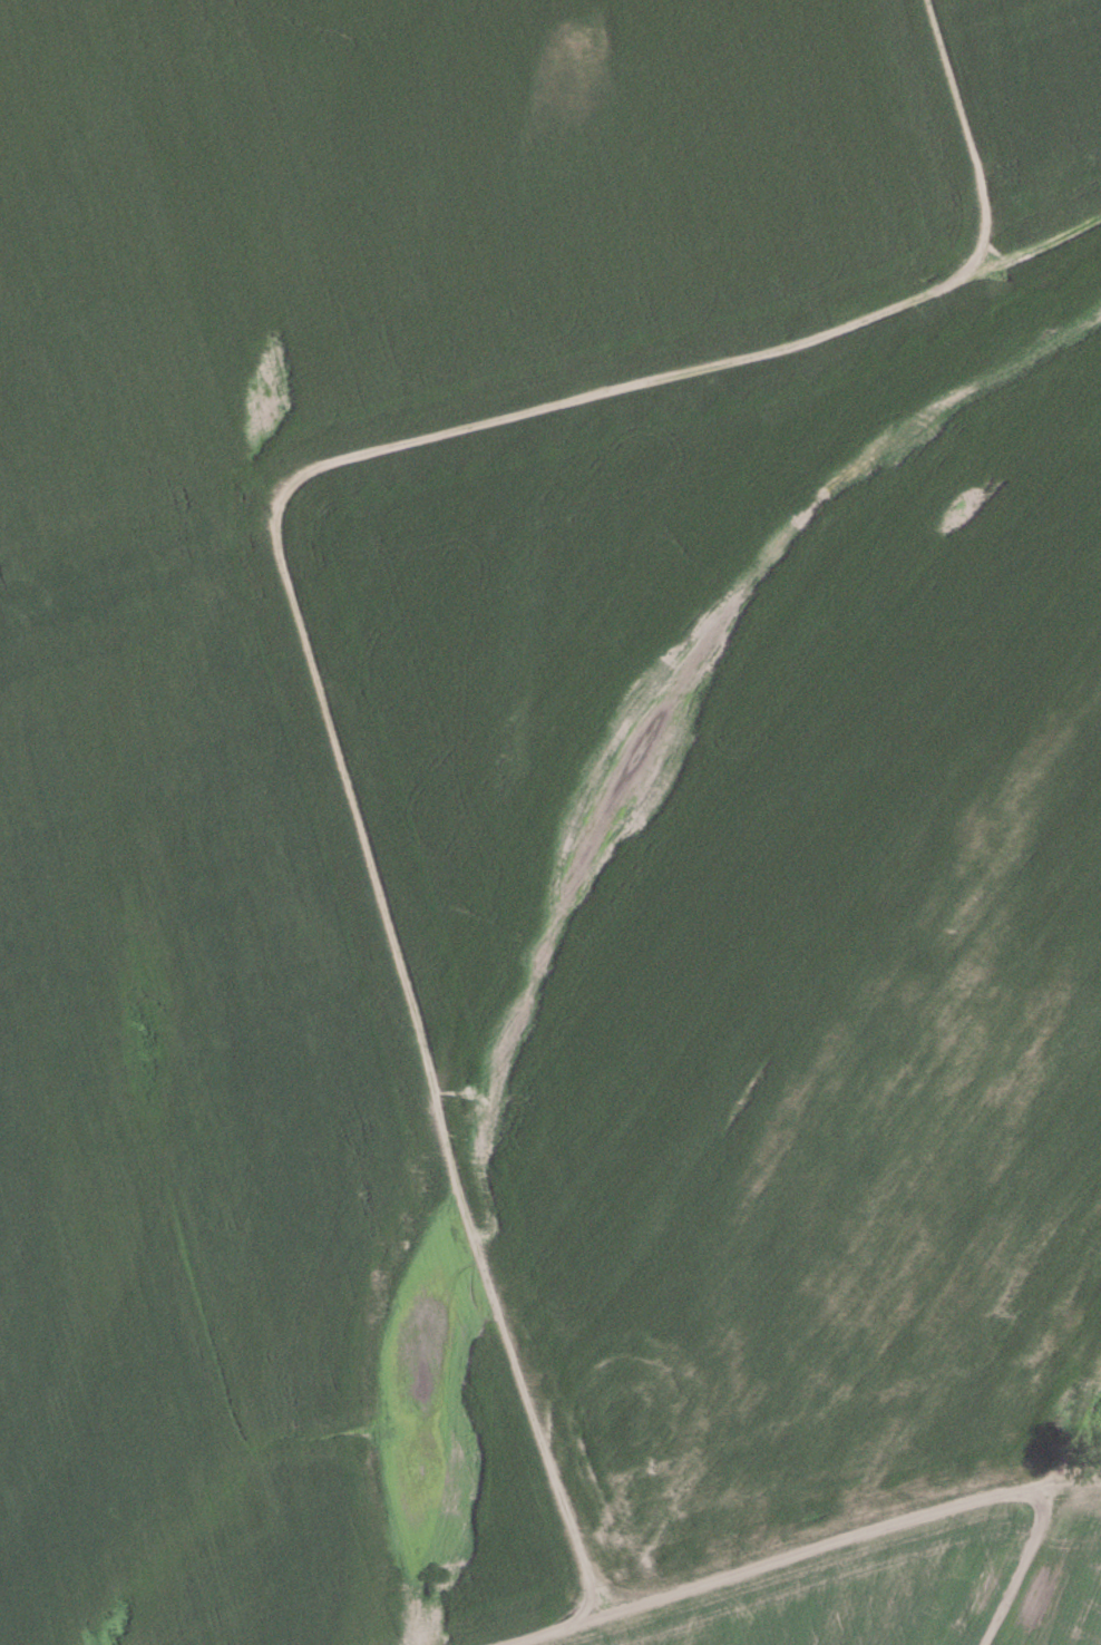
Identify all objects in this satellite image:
road: (1036, 242)
road: (284, 570)
crop: (550, 822)
road: (797, 1550)
road: (1020, 1566)

